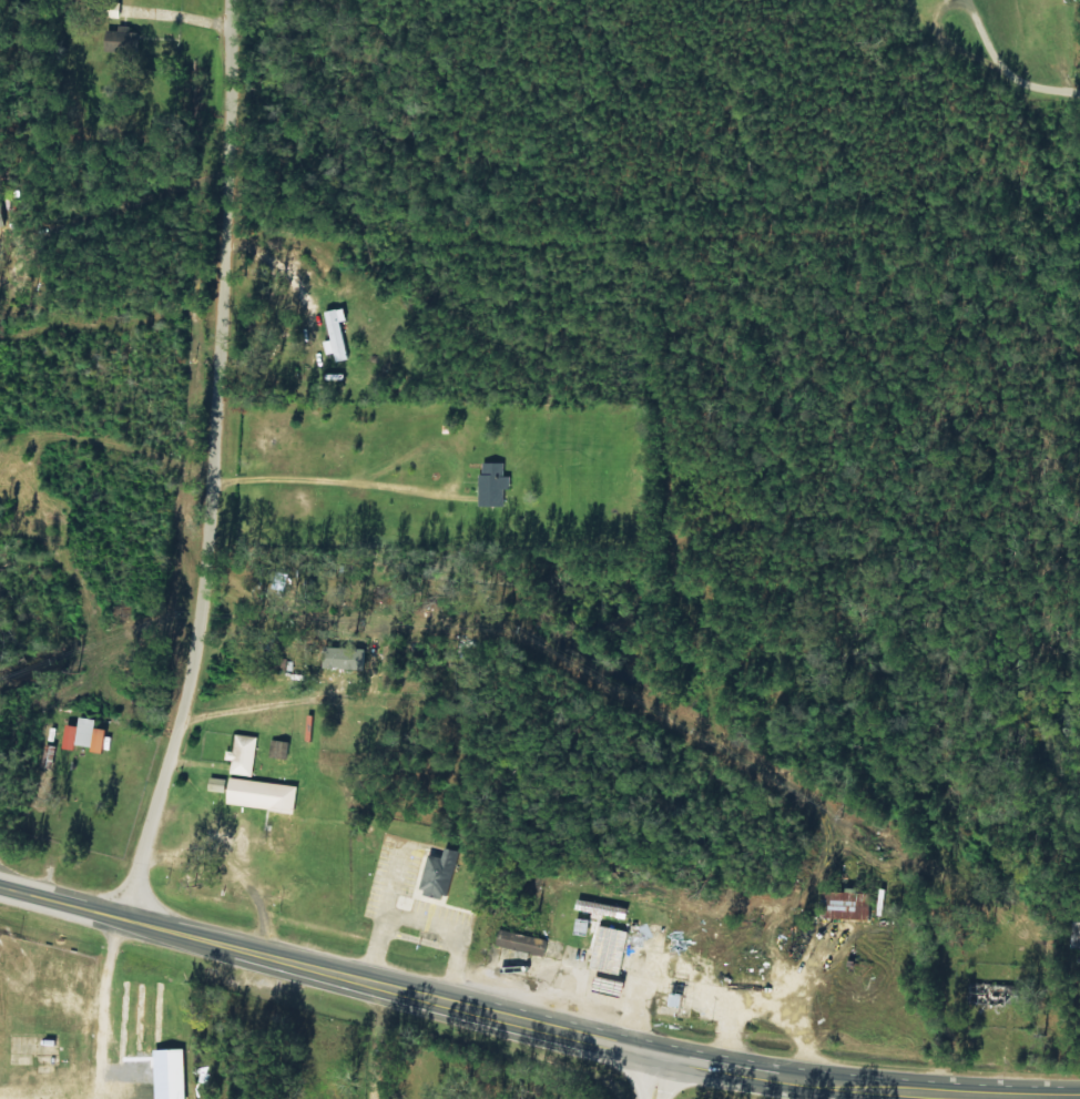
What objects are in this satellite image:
building: (120, 40)
building: (0, 223)
building: (335, 334)
road: (210, 465)
building: (491, 485)
building: (83, 734)
building: (242, 754)
building: (216, 784)
building: (261, 794)
building: (438, 873)
building: (845, 904)
building: (1074, 934)
building: (520, 942)
building: (608, 948)
building: (1, 949)
building: (12, 958)
building: (26, 964)
building: (44, 1008)
building: (65, 1011)
road: (472, 1012)
road: (376, 1045)
building: (22, 1069)
building: (169, 1073)
road: (655, 1079)
building: (144, 1092)

